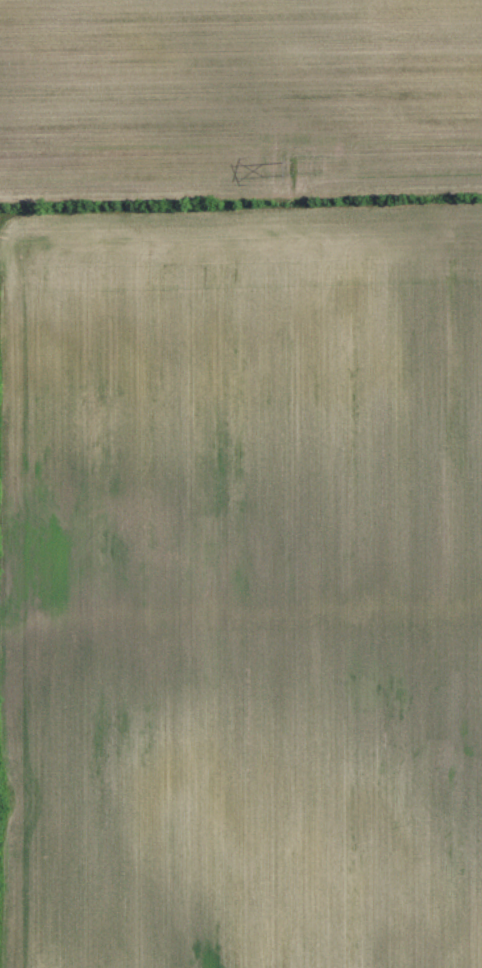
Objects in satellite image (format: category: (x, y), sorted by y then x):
power tower: (292, 166)

